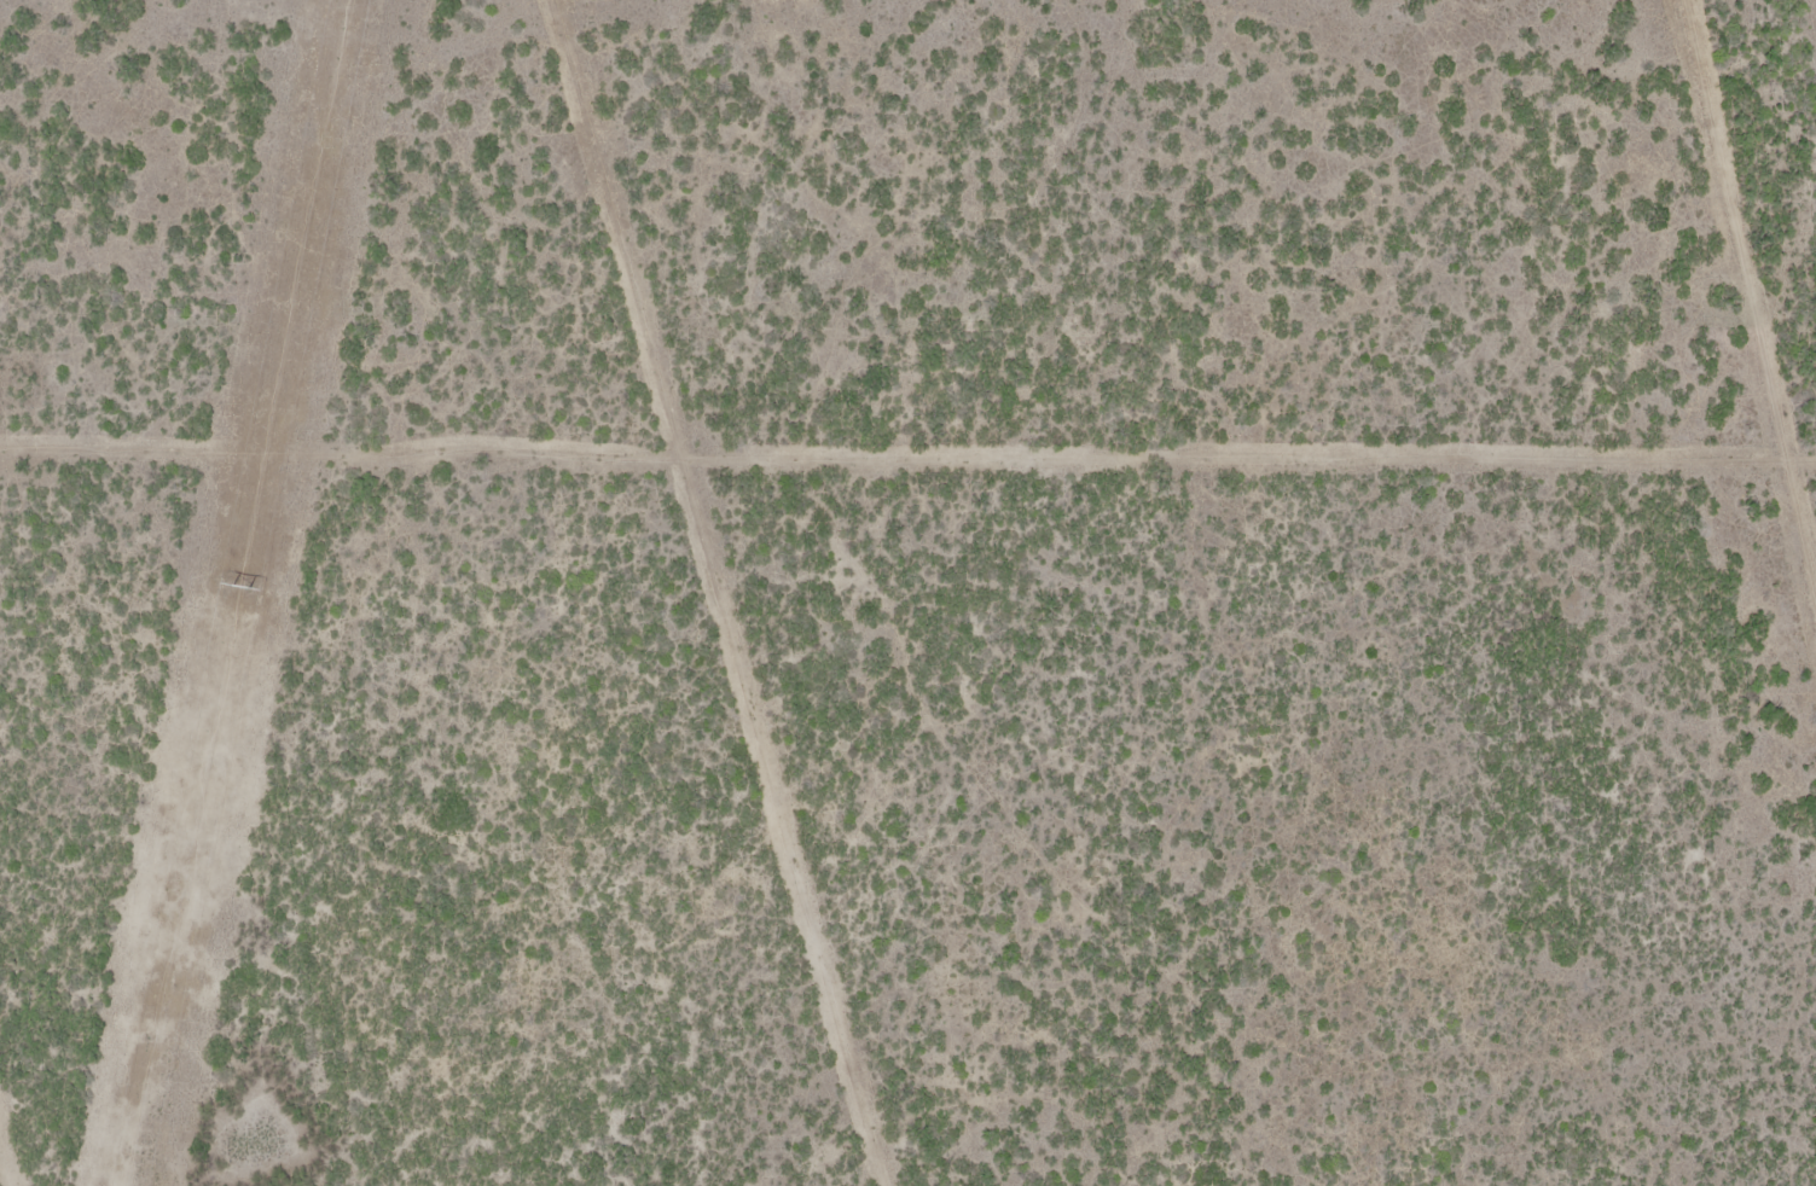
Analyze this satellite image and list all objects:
power tower: (239, 589)

